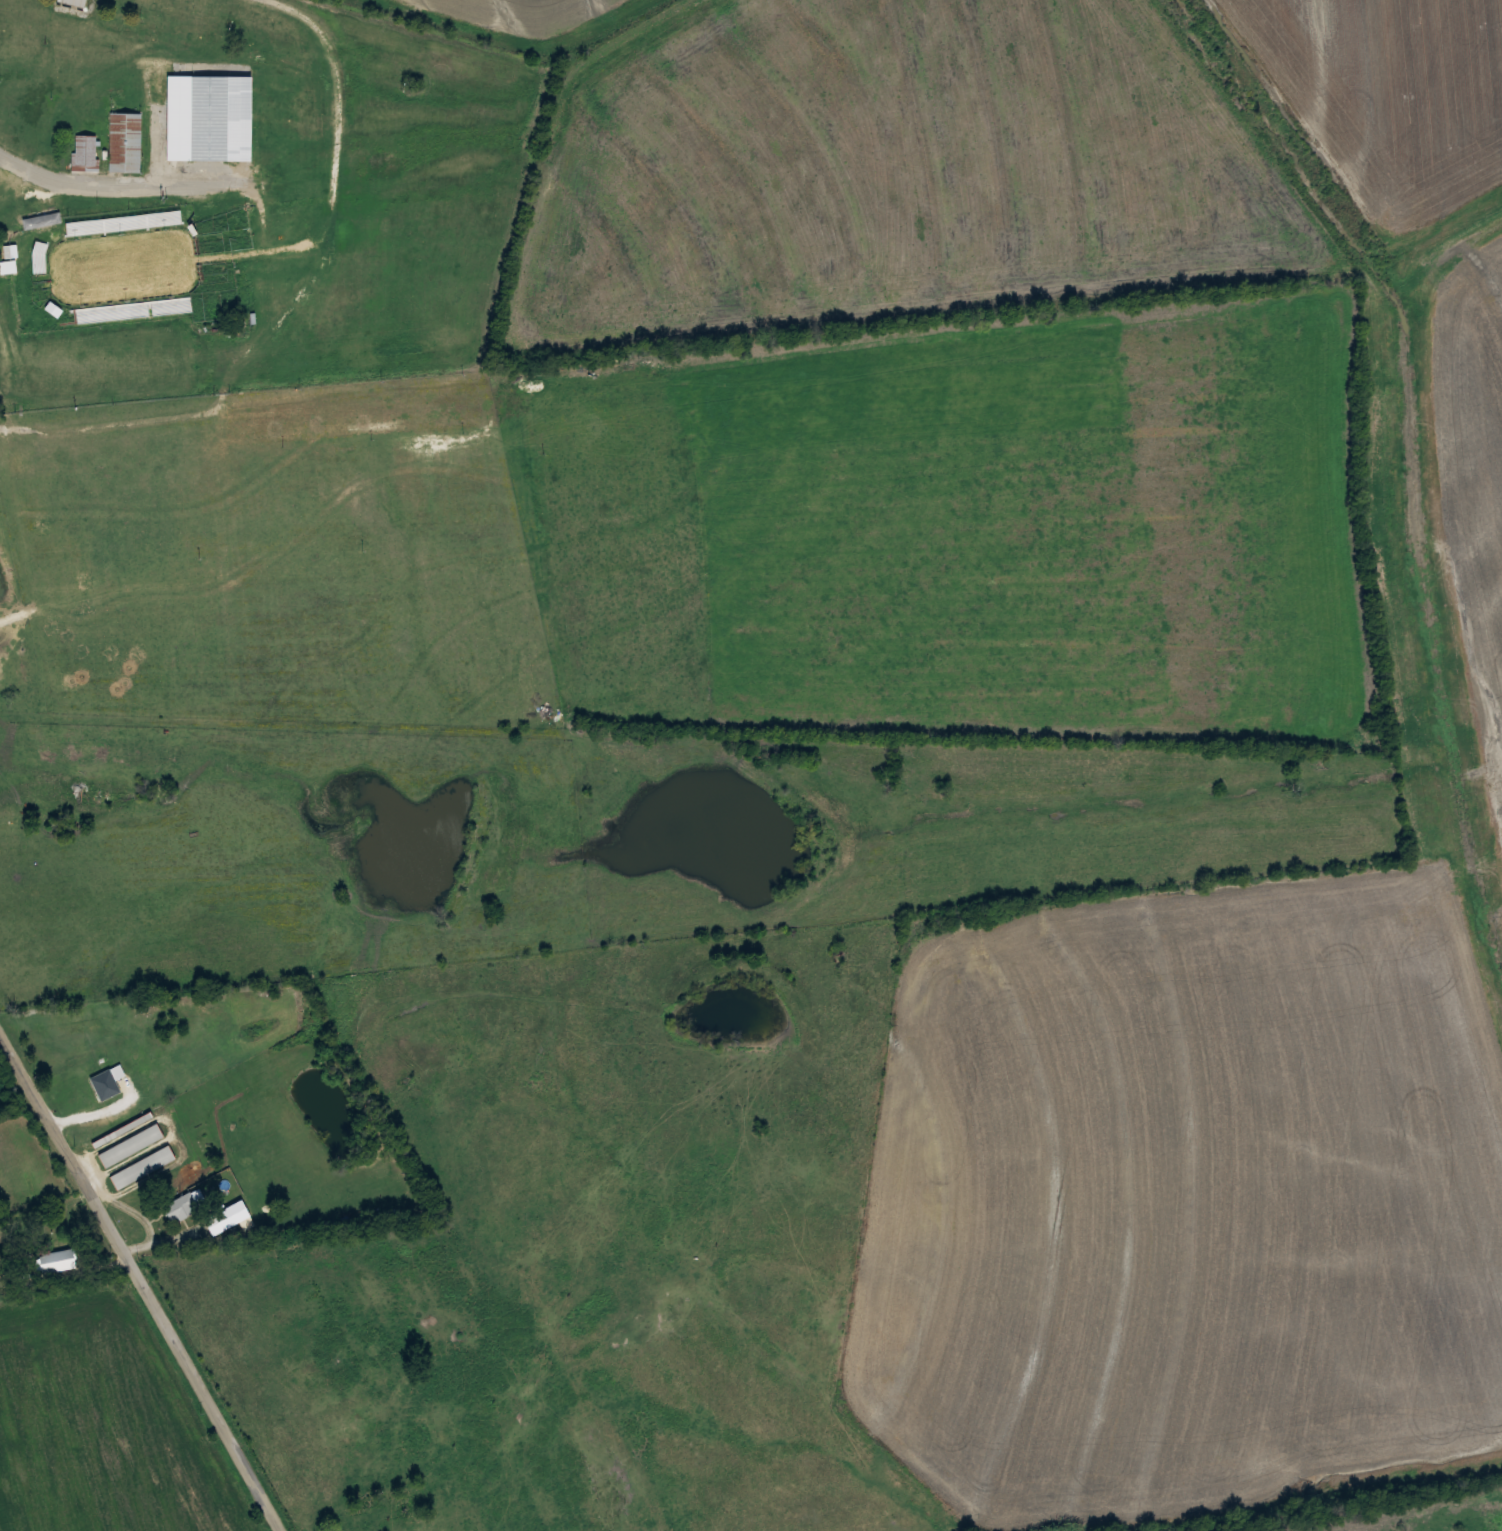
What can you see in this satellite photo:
building: (75, 2)
crop: (504, 13)
crop: (1388, 98)
building: (218, 117)
building: (125, 141)
building: (85, 150)
crop: (896, 165)
road: (120, 182)
building: (41, 220)
building: (7, 266)
crop: (293, 551)
crop: (276, 854)
building: (105, 1078)
building: (123, 1129)
building: (131, 1144)
building: (144, 1166)
building: (182, 1206)
building: (227, 1217)
building: (56, 1260)
road: (139, 1285)

